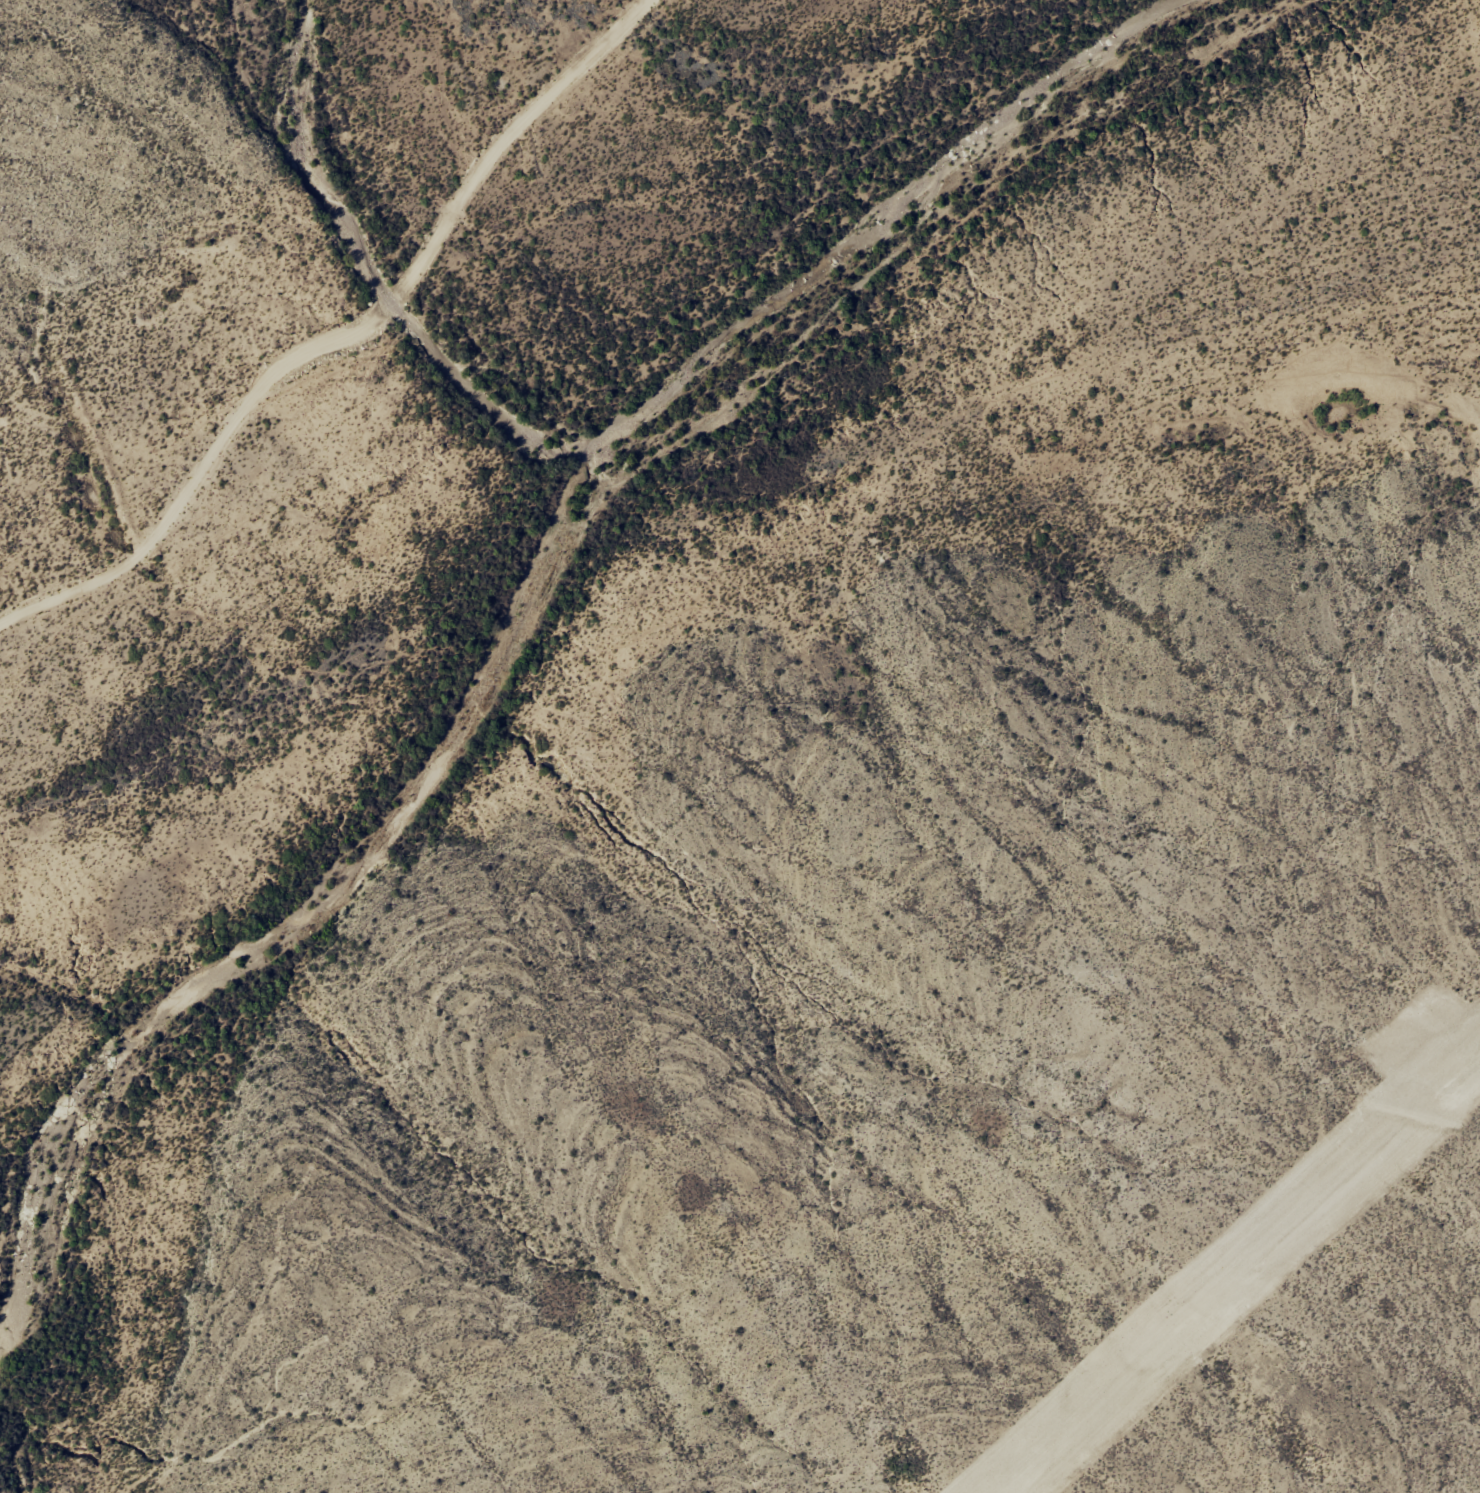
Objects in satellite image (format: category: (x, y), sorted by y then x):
road: (376, 358)

